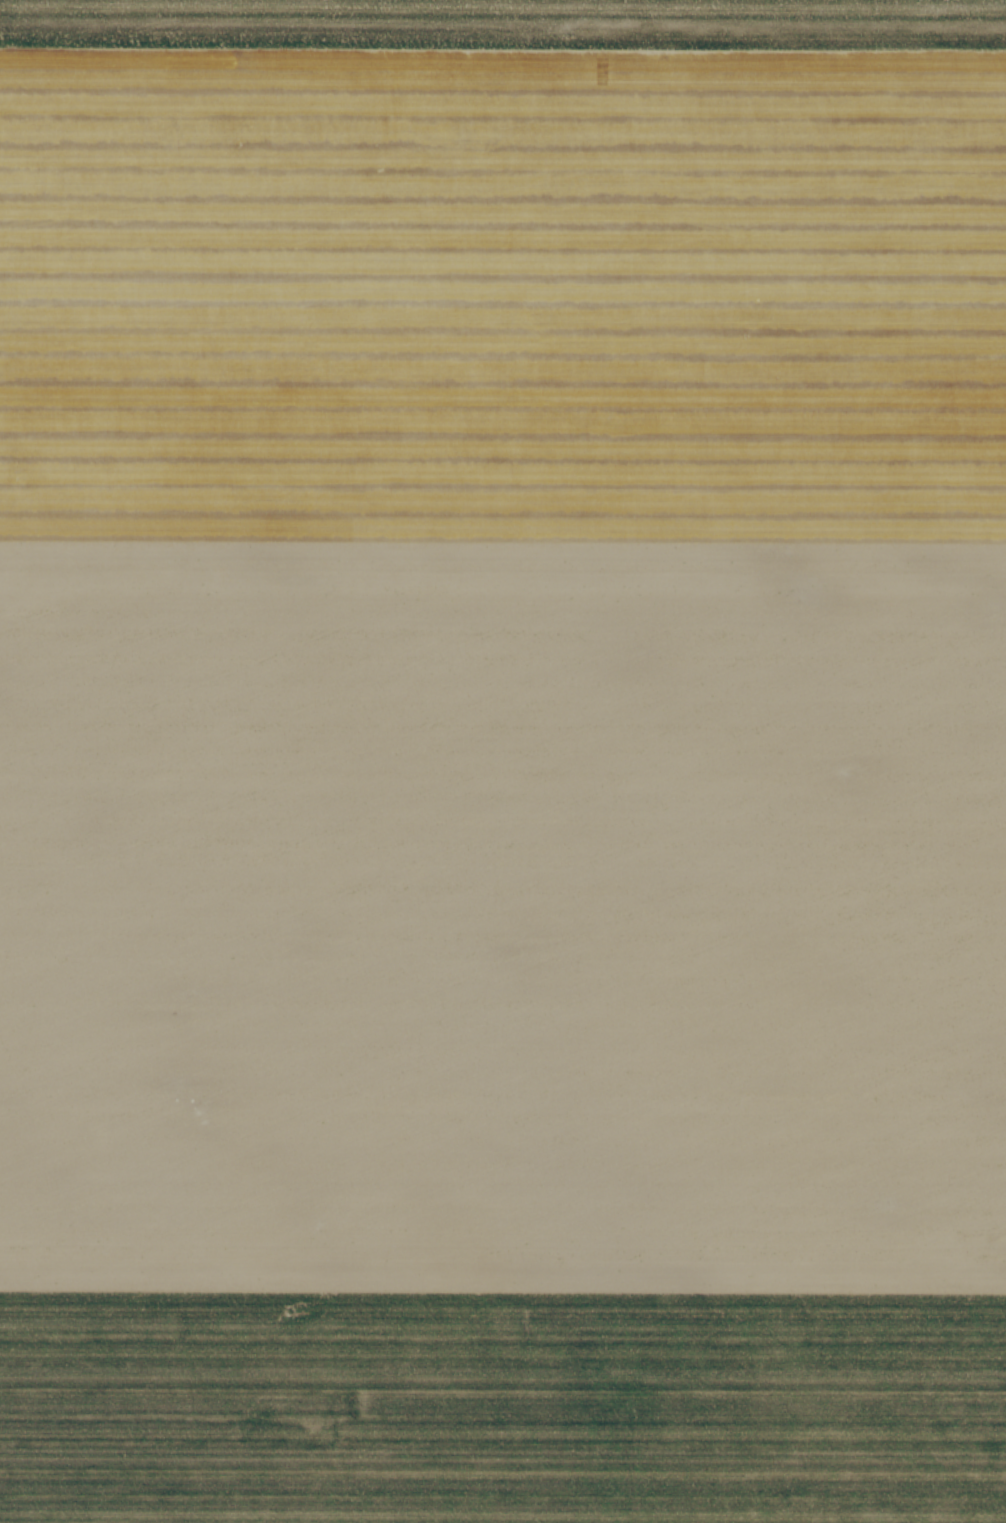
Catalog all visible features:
crop: (503, 761)

